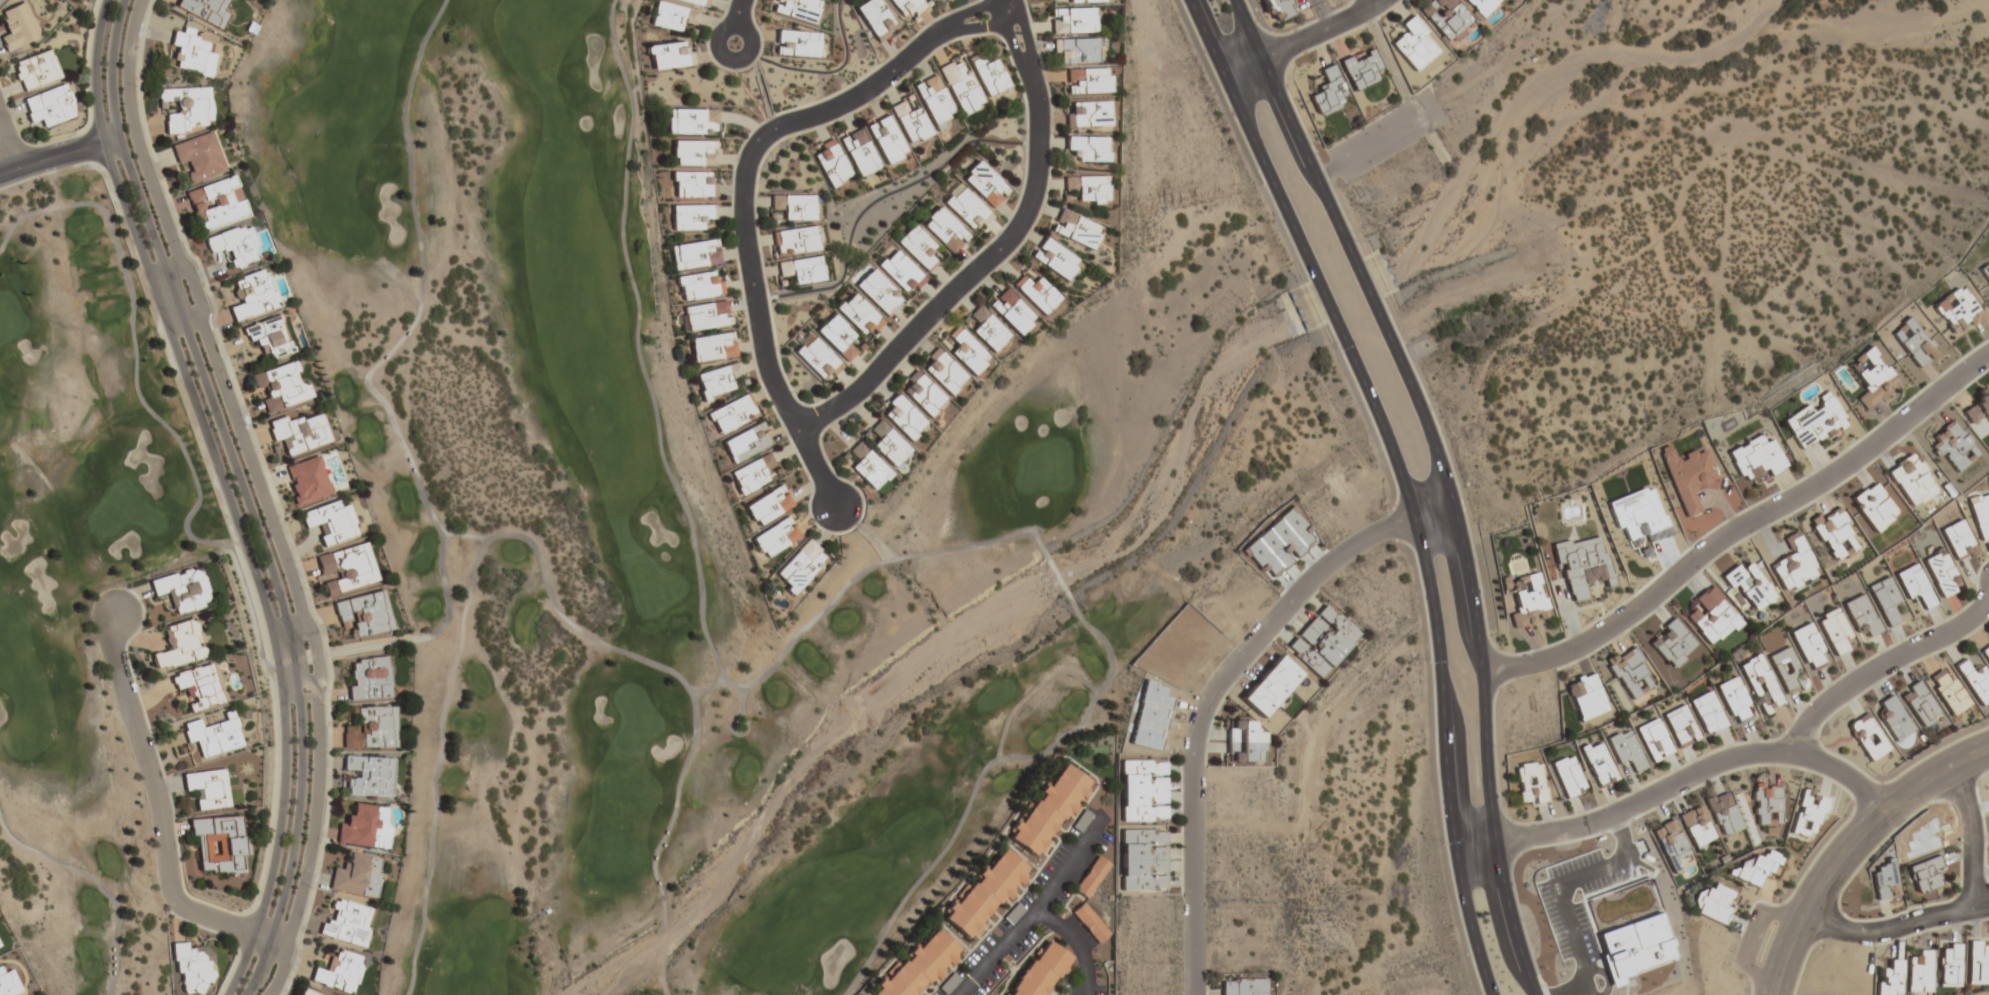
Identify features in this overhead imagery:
building: (1084, 1)
road: (1374, 1)
building: (694, 2)
building: (907, 6)
building: (1481, 6)
building: (1277, 9)
building: (795, 10)
building: (204, 11)
street lamp: (1254, 16)
building: (672, 17)
building: (1446, 18)
building: (876, 19)
building: (1072, 21)
road: (735, 23)
building: (18, 27)
road: (1301, 38)
building: (796, 44)
building: (1414, 45)
building: (1076, 51)
building: (191, 55)
building: (669, 57)
building: (1361, 69)
building: (35, 71)
street lamp: (738, 73)
building: (989, 77)
building: (1088, 81)
street lamp: (135, 86)
building: (960, 87)
building: (1328, 92)
street lamp: (1215, 96)
building: (933, 100)
building: (50, 106)
building: (186, 108)
building: (1088, 114)
building: (691, 122)
building: (910, 123)
street lamp: (74, 134)
road: (135, 139)
building: (886, 141)
road: (8, 143)
building: (1089, 148)
building: (859, 152)
building: (694, 153)
road: (58, 155)
building: (199, 156)
building: (830, 163)
building: (694, 184)
building: (986, 184)
building: (1087, 188)
road: (746, 193)
building: (216, 204)
building: (794, 206)
building: (966, 207)
building: (690, 217)
building: (945, 229)
building: (1075, 229)
building: (797, 240)
street lamp: (1357, 241)
street lamp: (181, 242)
building: (234, 246)
building: (918, 247)
road: (1001, 248)
building: (695, 255)
building: (1055, 259)
building: (802, 270)
building: (901, 271)
building: (1985, 274)
building: (700, 286)
road: (195, 292)
building: (879, 292)
building: (1037, 294)
building: (252, 295)
building: (1957, 311)
building: (1012, 312)
building: (858, 314)
building: (704, 316)
building: (987, 329)
building: (270, 337)
building: (837, 337)
building: (1913, 342)
building: (714, 347)
street lamp: (1336, 349)
building: (966, 352)
building: (817, 358)
building: (1873, 376)
building: (718, 381)
building: (281, 387)
building: (922, 396)
street lamp: (1432, 407)
building: (1978, 407)
building: (733, 414)
building: (902, 419)
building: (1814, 422)
street lamp: (245, 426)
building: (300, 433)
building: (747, 443)
building: (888, 445)
building: (1953, 447)
building: (1756, 459)
building: (867, 467)
road: (254, 470)
building: (753, 474)
building: (1688, 477)
road: (1401, 479)
building: (307, 480)
road: (1445, 480)
building: (1912, 480)
road: (225, 495)
road: (243, 495)
building: (768, 506)
building: (1873, 507)
building: (1980, 514)
building: (330, 523)
road: (1742, 534)
building: (1834, 534)
road: (470, 538)
park: (671, 538)
building: (775, 538)
building: (1957, 539)
road: (540, 557)
street lamp: (293, 561)
street lamp: (1478, 562)
building: (1582, 565)
building: (1794, 565)
building: (800, 567)
building: (346, 569)
building: (1941, 574)
park: (82, 583)
building: (1749, 586)
building: (1915, 586)
building: (181, 590)
building: (1529, 600)
building: (1886, 601)
road: (830, 604)
building: (364, 614)
building: (1861, 615)
building: (1712, 616)
building: (1834, 631)
building: (1322, 641)
road: (371, 644)
building: (1672, 644)
building: (180, 645)
building: (1808, 647)
building: (1985, 653)
road: (319, 658)
street lamp: (1428, 662)
building: (1787, 670)
road: (1884, 671)
building: (1630, 672)
building: (369, 678)
building: (1974, 681)
street lamp: (136, 683)
building: (1760, 683)
building: (1270, 686)
building: (198, 687)
road: (707, 687)
road: (1215, 691)
building: (1948, 692)
building: (1586, 697)
road: (740, 701)
building: (1734, 701)
building: (1920, 704)
street lamp: (324, 706)
building: (1707, 713)
building: (1895, 719)
building: (1680, 726)
building: (372, 729)
road: (739, 733)
building: (213, 736)
building: (1868, 737)
building: (1653, 740)
building: (1244, 742)
road: (1051, 746)
street lamp: (1496, 747)
building: (1626, 750)
building: (1597, 763)
building: (369, 776)
building: (1568, 777)
building: (1529, 783)
building: (207, 789)
road: (1677, 789)
building: (1141, 791)
building: (1766, 804)
building: (1048, 811)
building: (1722, 813)
road: (160, 815)
building: (1807, 815)
building: (1696, 826)
building: (365, 828)
building: (218, 844)
street lamp: (1442, 844)
building: (1671, 845)
road: (314, 847)
road: (1854, 849)
building: (1142, 860)
building: (1758, 868)
road: (1070, 869)
building: (1924, 875)
building: (357, 877)
building: (1883, 879)
road: (99, 882)
street lamp: (311, 888)
building: (984, 895)
building: (1713, 904)
street lamp: (231, 910)
road: (1959, 911)
road: (1038, 912)
street lamp: (1523, 921)
building: (347, 923)
building: (1090, 924)
road: (1755, 941)
building: (1978, 963)
building: (919, 966)
building: (1950, 966)
building: (192, 968)
building: (1041, 971)
building: (338, 973)
building: (1920, 973)
building: (1890, 979)
building: (7, 981)
building: (949, 984)
building: (1243, 986)
building: (306, 993)
street lamp: (1748, 993)

